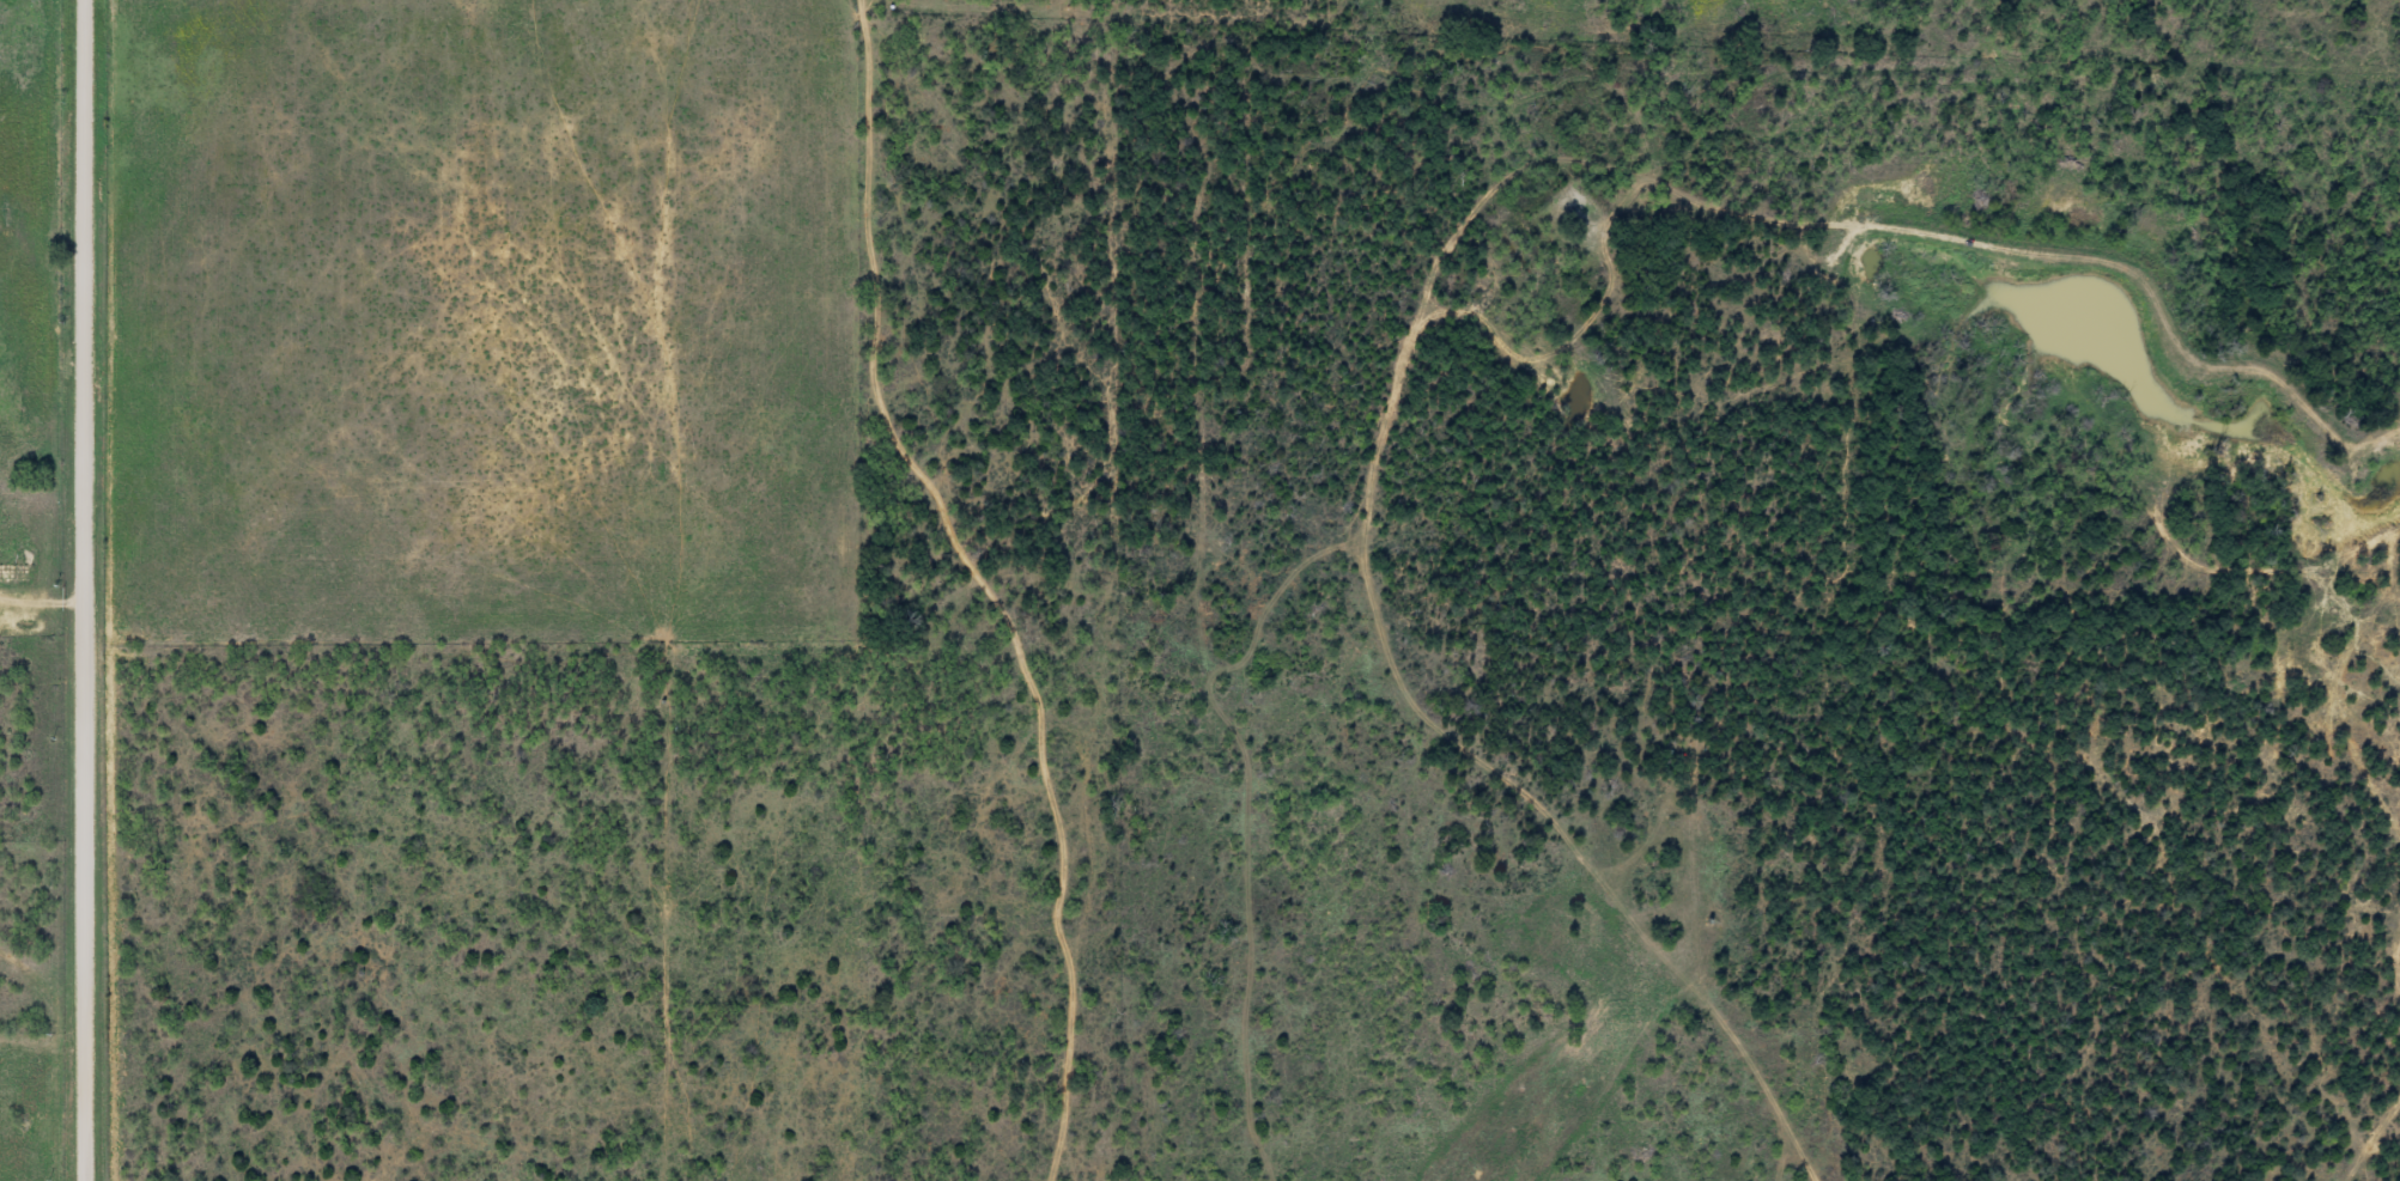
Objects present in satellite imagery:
road: (126, 590)
road: (1031, 595)
road: (63, 605)

